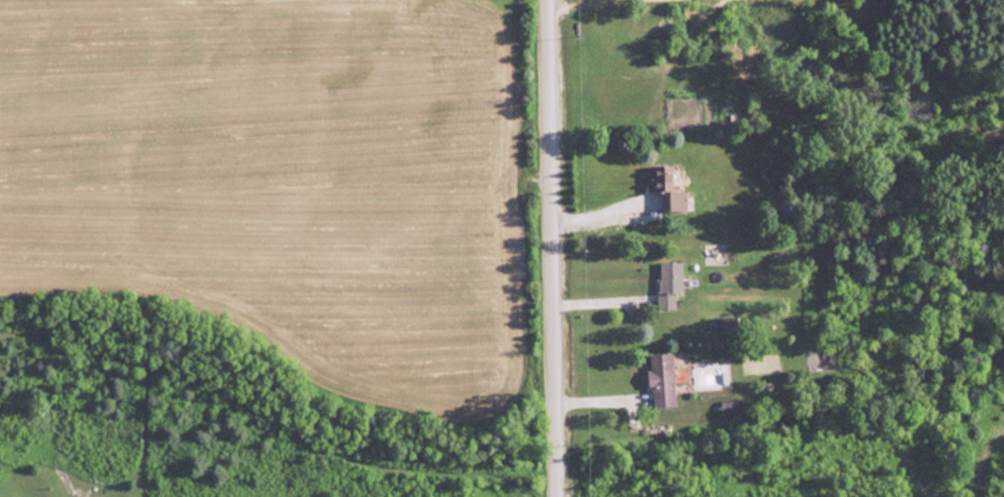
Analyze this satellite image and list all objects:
building: (666, 189)
road: (605, 211)
road: (553, 248)
building: (667, 283)
building: (724, 324)
building: (659, 379)
building: (729, 407)

